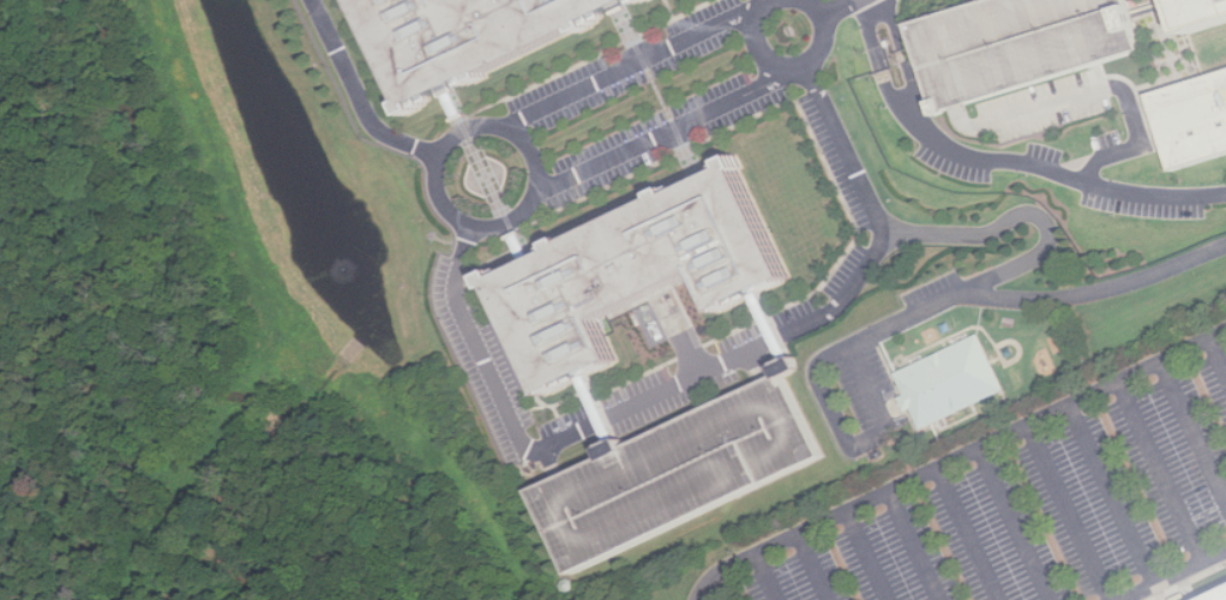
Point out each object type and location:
road: (1150, 6)
road: (841, 7)
building: (1196, 12)
road: (895, 22)
road: (873, 34)
building: (459, 38)
road: (1168, 41)
building: (887, 43)
building: (1016, 44)
parking lot: (1016, 44)
road: (629, 67)
road: (789, 67)
road: (1152, 83)
road: (1095, 91)
road: (657, 92)
road: (917, 92)
road: (357, 96)
road: (912, 96)
road: (900, 110)
building: (1189, 118)
road: (662, 134)
road: (482, 175)
road: (1077, 179)
road: (462, 220)
fountain: (349, 262)
building: (621, 275)
road: (972, 288)
road: (763, 329)
road: (1216, 358)
road: (753, 367)
road: (698, 374)
building: (949, 380)
road: (879, 402)
road: (593, 412)
road: (1190, 439)
road: (957, 460)
road: (552, 463)
building: (673, 472)
parking lot: (673, 472)
road: (1154, 474)
road: (1104, 498)
parking lot: (1045, 511)
road: (1062, 515)
road: (1008, 526)
road: (960, 536)
road: (908, 547)
road: (859, 558)
road: (807, 569)
road: (1172, 574)
road: (768, 577)
road: (1188, 581)
building: (567, 586)
building: (1218, 595)

